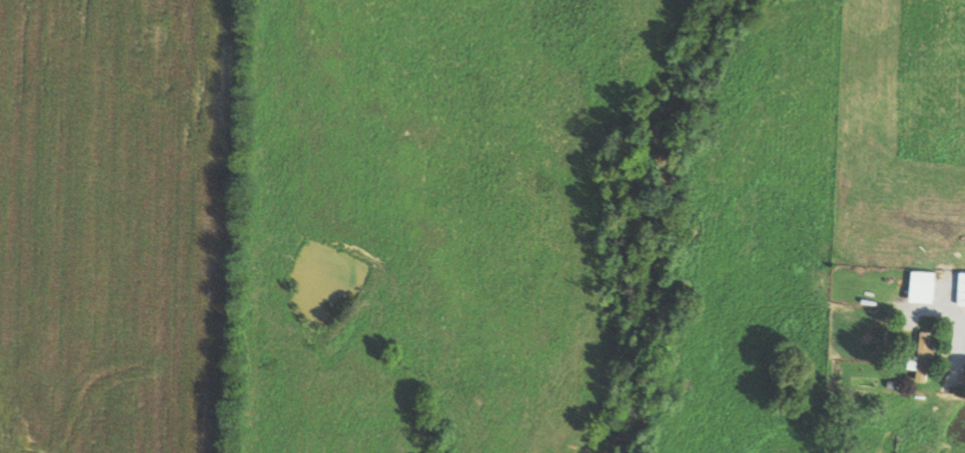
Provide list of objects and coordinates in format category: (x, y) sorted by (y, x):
building: (925, 286)
building: (962, 289)
road: (947, 313)
building: (927, 356)

